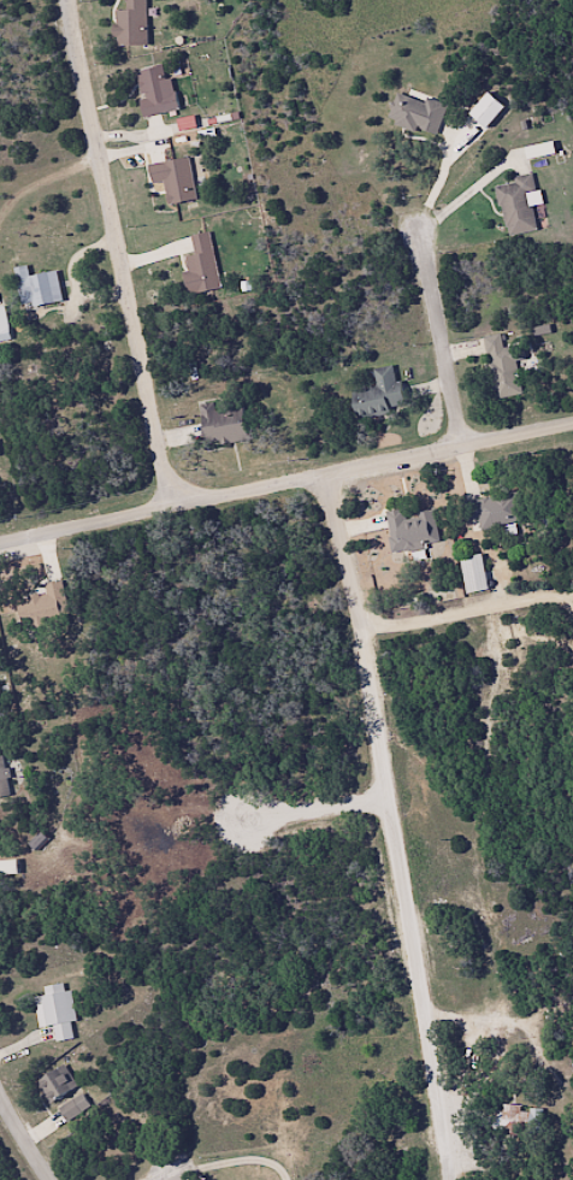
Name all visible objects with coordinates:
building: (129, 24)
building: (154, 92)
building: (415, 113)
building: (172, 179)
building: (515, 206)
road: (124, 253)
building: (199, 265)
building: (36, 288)
road: (444, 325)
building: (501, 368)
building: (378, 395)
building: (220, 424)
road: (286, 486)
building: (498, 511)
building: (408, 530)
building: (472, 573)
road: (534, 595)
road: (335, 612)
road: (540, 731)
building: (2, 779)
road: (485, 818)
building: (55, 1010)
building: (55, 1084)
building: (67, 1111)
building: (518, 1120)
road: (26, 1132)
building: (469, 1163)

